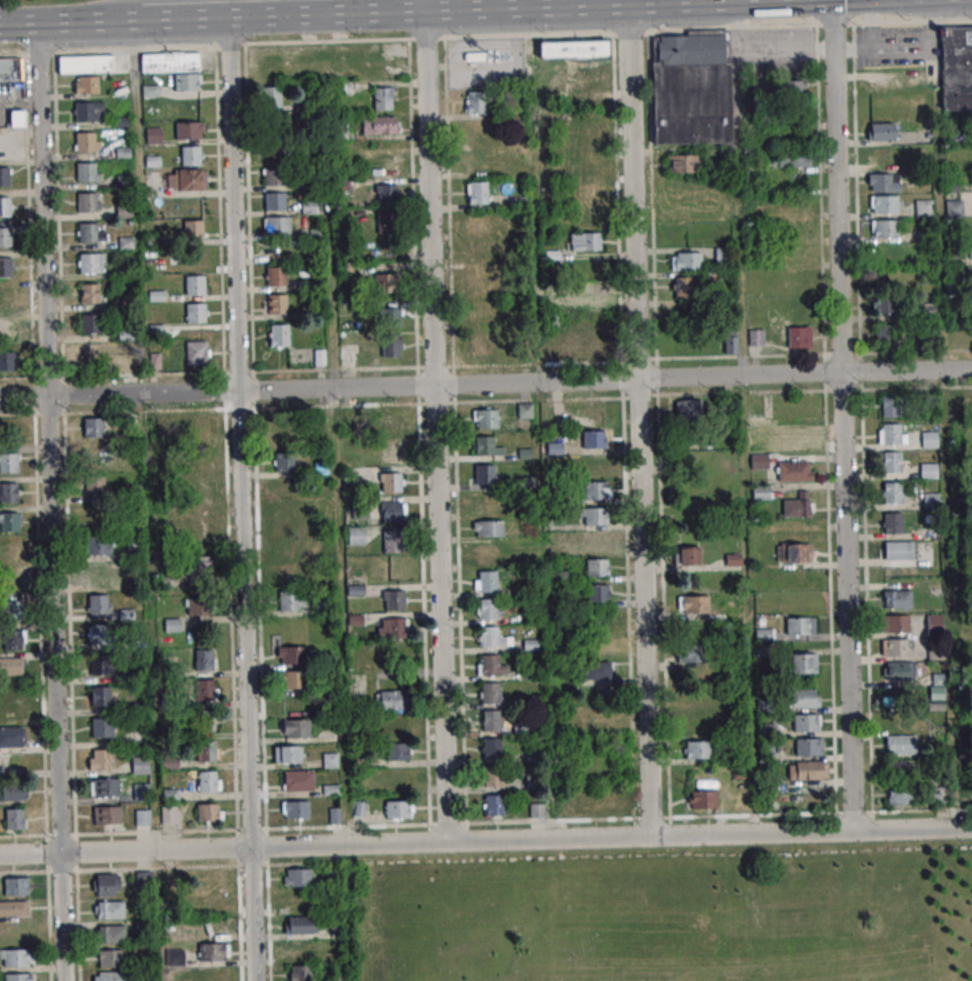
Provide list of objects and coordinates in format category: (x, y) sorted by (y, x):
road: (723, 1)
road: (570, 3)
road: (424, 5)
road: (512, 7)
road: (97, 11)
road: (251, 16)
road: (84, 21)
road: (485, 35)
building: (573, 48)
building: (86, 64)
building: (175, 68)
building: (956, 68)
building: (10, 69)
building: (580, 80)
building: (86, 84)
building: (883, 87)
building: (792, 88)
building: (691, 89)
building: (271, 96)
building: (383, 98)
building: (476, 105)
building: (89, 112)
building: (583, 120)
building: (123, 122)
building: (271, 125)
building: (380, 125)
building: (189, 131)
building: (476, 131)
building: (882, 131)
building: (86, 141)
building: (585, 144)
building: (4, 146)
building: (274, 151)
building: (191, 155)
building: (884, 155)
building: (789, 159)
building: (683, 163)
building: (382, 164)
building: (588, 168)
building: (87, 172)
building: (5, 176)
building: (273, 177)
building: (187, 180)
building: (883, 182)
road: (838, 187)
building: (477, 192)
building: (589, 192)
building: (387, 193)
building: (274, 201)
building: (88, 202)
building: (884, 204)
building: (5, 207)
building: (924, 208)
building: (954, 208)
building: (791, 209)
building: (589, 217)
building: (478, 222)
building: (388, 223)
building: (276, 225)
building: (884, 228)
building: (193, 229)
building: (89, 233)
building: (5, 237)
building: (584, 241)
building: (970, 249)
building: (279, 250)
building: (889, 251)
building: (721, 253)
building: (952, 258)
building: (686, 261)
building: (91, 263)
building: (5, 268)
building: (275, 276)
building: (386, 282)
building: (483, 283)
building: (194, 284)
building: (682, 287)
building: (588, 288)
building: (89, 293)
building: (6, 298)
building: (276, 304)
building: (889, 304)
building: (928, 308)
building: (195, 312)
building: (482, 312)
building: (685, 313)
building: (390, 317)
building: (552, 320)
building: (92, 324)
building: (6, 330)
building: (885, 334)
building: (278, 335)
building: (756, 337)
building: (799, 337)
building: (480, 343)
building: (731, 345)
building: (391, 348)
building: (197, 353)
building: (91, 354)
building: (7, 361)
road: (486, 385)
building: (888, 406)
building: (688, 409)
building: (485, 418)
road: (638, 421)
building: (391, 422)
building: (197, 425)
building: (93, 427)
road: (435, 427)
building: (760, 428)
building: (9, 429)
building: (287, 429)
building: (891, 434)
building: (594, 439)
building: (929, 439)
building: (487, 446)
building: (390, 452)
building: (758, 454)
road: (744, 455)
road: (944, 456)
building: (97, 457)
building: (691, 461)
building: (284, 462)
building: (892, 462)
building: (8, 463)
building: (596, 465)
building: (928, 470)
building: (794, 471)
building: (360, 475)
building: (486, 475)
building: (199, 481)
building: (391, 482)
building: (96, 486)
building: (287, 490)
building: (594, 490)
building: (8, 492)
building: (760, 492)
building: (892, 492)
road: (240, 499)
building: (930, 500)
road: (48, 502)
building: (485, 503)
building: (798, 505)
building: (379, 512)
building: (593, 516)
building: (97, 517)
building: (286, 517)
building: (9, 522)
building: (893, 522)
building: (488, 528)
building: (200, 536)
building: (357, 536)
building: (392, 541)
building: (598, 541)
road: (338, 544)
building: (97, 545)
building: (285, 546)
building: (897, 550)
building: (9, 551)
building: (489, 553)
building: (794, 553)
building: (689, 555)
building: (198, 565)
building: (597, 567)
building: (289, 572)
building: (98, 575)
building: (12, 581)
building: (487, 581)
building: (598, 593)
building: (896, 599)
building: (291, 600)
building: (394, 600)
road: (846, 603)
building: (99, 604)
building: (693, 604)
building: (199, 606)
building: (487, 609)
building: (10, 610)
building: (895, 623)
building: (800, 625)
building: (934, 625)
building: (392, 628)
building: (98, 634)
building: (492, 637)
building: (13, 640)
building: (530, 645)
building: (894, 647)
building: (682, 653)
building: (291, 655)
building: (203, 658)
building: (803, 663)
building: (101, 665)
building: (490, 666)
building: (10, 667)
building: (600, 670)
building: (898, 671)
building: (292, 679)
building: (937, 686)
building: (206, 690)
building: (490, 692)
building: (100, 696)
building: (804, 698)
building: (392, 699)
building: (294, 704)
building: (491, 720)
building: (205, 721)
building: (806, 722)
building: (597, 724)
building: (397, 725)
building: (696, 725)
building: (102, 727)
building: (294, 728)
building: (10, 737)
building: (900, 744)
building: (808, 746)
building: (491, 748)
building: (696, 749)
building: (206, 751)
building: (397, 752)
building: (287, 754)
building: (99, 760)
building: (330, 760)
building: (140, 765)
building: (901, 767)
building: (807, 770)
building: (494, 776)
building: (208, 781)
building: (297, 781)
building: (104, 787)
building: (138, 791)
building: (11, 792)
building: (899, 795)
building: (703, 799)
building: (608, 802)
building: (493, 805)
building: (295, 809)
building: (398, 809)
building: (536, 810)
building: (209, 813)
building: (168, 814)
building: (107, 815)
building: (142, 817)
building: (14, 818)
road: (485, 842)
building: (296, 877)
building: (142, 878)
building: (211, 879)
building: (107, 885)
building: (15, 886)
building: (211, 903)
building: (13, 908)
building: (108, 910)
park: (663, 914)
building: (300, 925)
building: (110, 934)
building: (299, 949)
building: (213, 952)
building: (16, 957)
building: (175, 957)
building: (111, 958)
building: (301, 973)
building: (215, 974)
building: (109, 976)
building: (18, 977)

